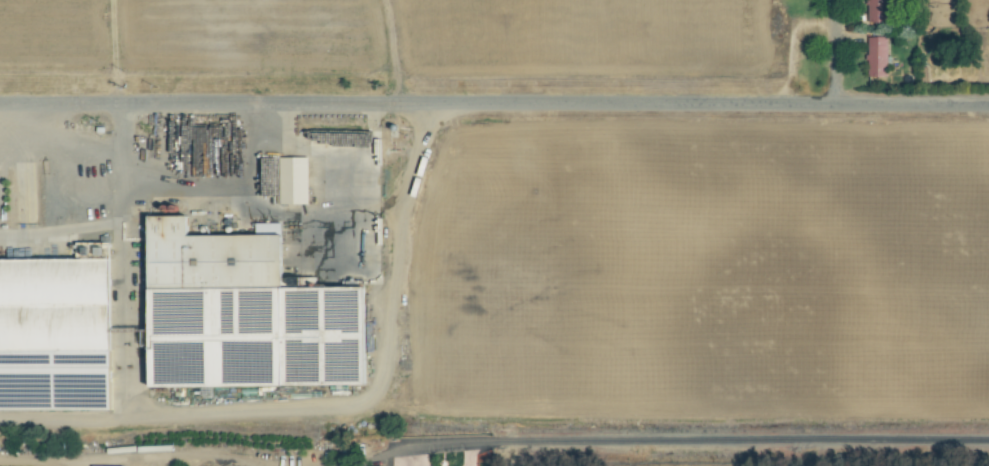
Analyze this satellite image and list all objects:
building: (878, 11)
road: (834, 53)
building: (877, 57)
road: (494, 102)
building: (174, 130)
building: (294, 179)
road: (183, 188)
building: (57, 302)
building: (247, 313)
road: (337, 410)
road: (676, 441)
building: (117, 465)

